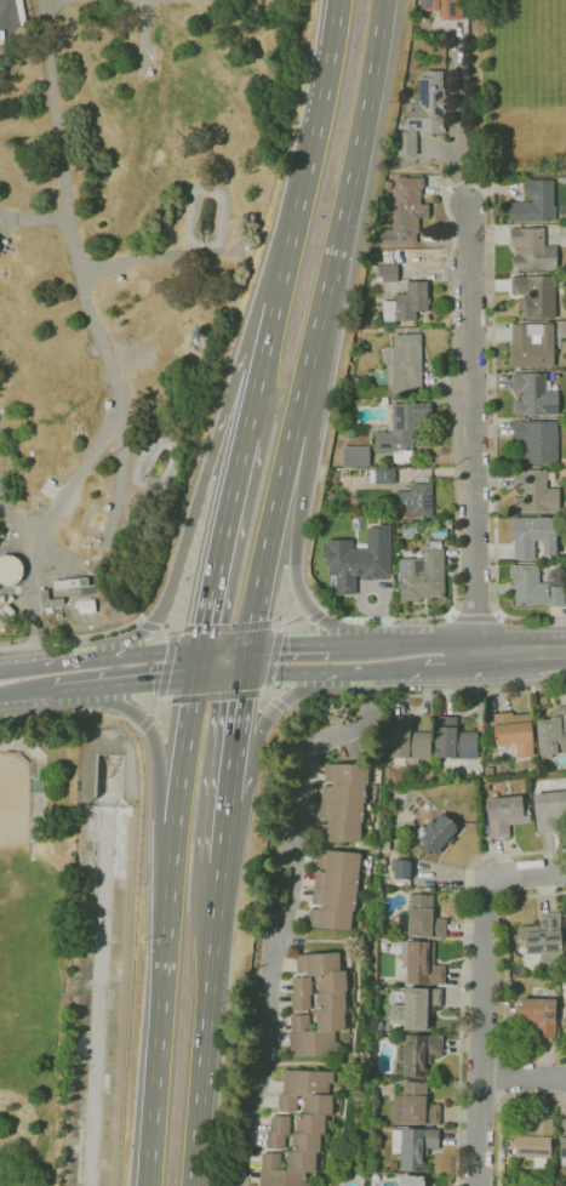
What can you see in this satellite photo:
building: (444, 8)
road: (2, 11)
building: (149, 72)
building: (423, 114)
road: (459, 121)
road: (137, 131)
road: (311, 138)
building: (564, 181)
building: (533, 203)
building: (404, 212)
road: (32, 219)
building: (4, 241)
building: (532, 250)
road: (160, 256)
building: (388, 273)
building: (120, 279)
building: (536, 296)
building: (406, 303)
road: (318, 323)
road: (102, 344)
building: (531, 346)
road: (265, 354)
building: (398, 370)
road: (494, 371)
building: (353, 382)
building: (533, 395)
building: (383, 401)
road: (471, 429)
building: (401, 431)
building: (537, 441)
building: (355, 456)
building: (564, 462)
building: (382, 475)
road: (204, 479)
road: (120, 484)
building: (534, 492)
building: (413, 502)
building: (438, 532)
building: (1, 535)
building: (533, 536)
road: (224, 541)
road: (458, 557)
building: (358, 558)
building: (10, 570)
storage tank: (10, 570)
road: (296, 575)
building: (421, 576)
building: (534, 588)
building: (1, 599)
building: (50, 600)
building: (17, 605)
building: (86, 606)
road: (322, 611)
road: (452, 616)
building: (2, 617)
road: (498, 617)
road: (421, 618)
road: (474, 618)
road: (139, 621)
road: (302, 622)
traffic signals: (206, 623)
road: (156, 627)
road: (227, 628)
building: (44, 633)
road: (69, 638)
road: (411, 640)
road: (296, 644)
traffic signals: (281, 645)
road: (225, 648)
road: (150, 652)
road: (520, 654)
road: (246, 660)
road: (199, 663)
road: (64, 665)
road: (166, 668)
road: (15, 671)
road: (271, 672)
road: (361, 672)
road: (221, 675)
traffic signals: (161, 679)
road: (125, 683)
road: (27, 694)
road: (425, 695)
road: (213, 696)
traffic signals: (241, 700)
road: (280, 703)
road: (286, 709)
road: (158, 711)
road: (72, 714)
road: (238, 720)
road: (147, 723)
road: (141, 730)
building: (514, 732)
building: (551, 734)
building: (453, 741)
building: (407, 743)
building: (488, 771)
road: (158, 779)
park: (13, 798)
building: (344, 802)
building: (549, 810)
building: (505, 815)
road: (225, 816)
building: (436, 833)
building: (383, 849)
road: (516, 854)
building: (381, 867)
building: (401, 869)
road: (528, 878)
building: (335, 889)
road: (282, 911)
building: (421, 918)
road: (167, 930)
building: (542, 935)
park: (38, 948)
building: (418, 960)
road: (503, 975)
building: (301, 993)
building: (320, 1005)
building: (417, 1008)
building: (538, 1015)
building: (565, 1017)
road: (206, 1025)
road: (462, 1025)
road: (481, 1033)
building: (417, 1053)
road: (522, 1074)
building: (413, 1105)
road: (501, 1113)
building: (302, 1124)
building: (278, 1131)
building: (562, 1140)
building: (534, 1141)
building: (413, 1146)
building: (270, 1161)
building: (394, 1165)
building: (412, 1180)

